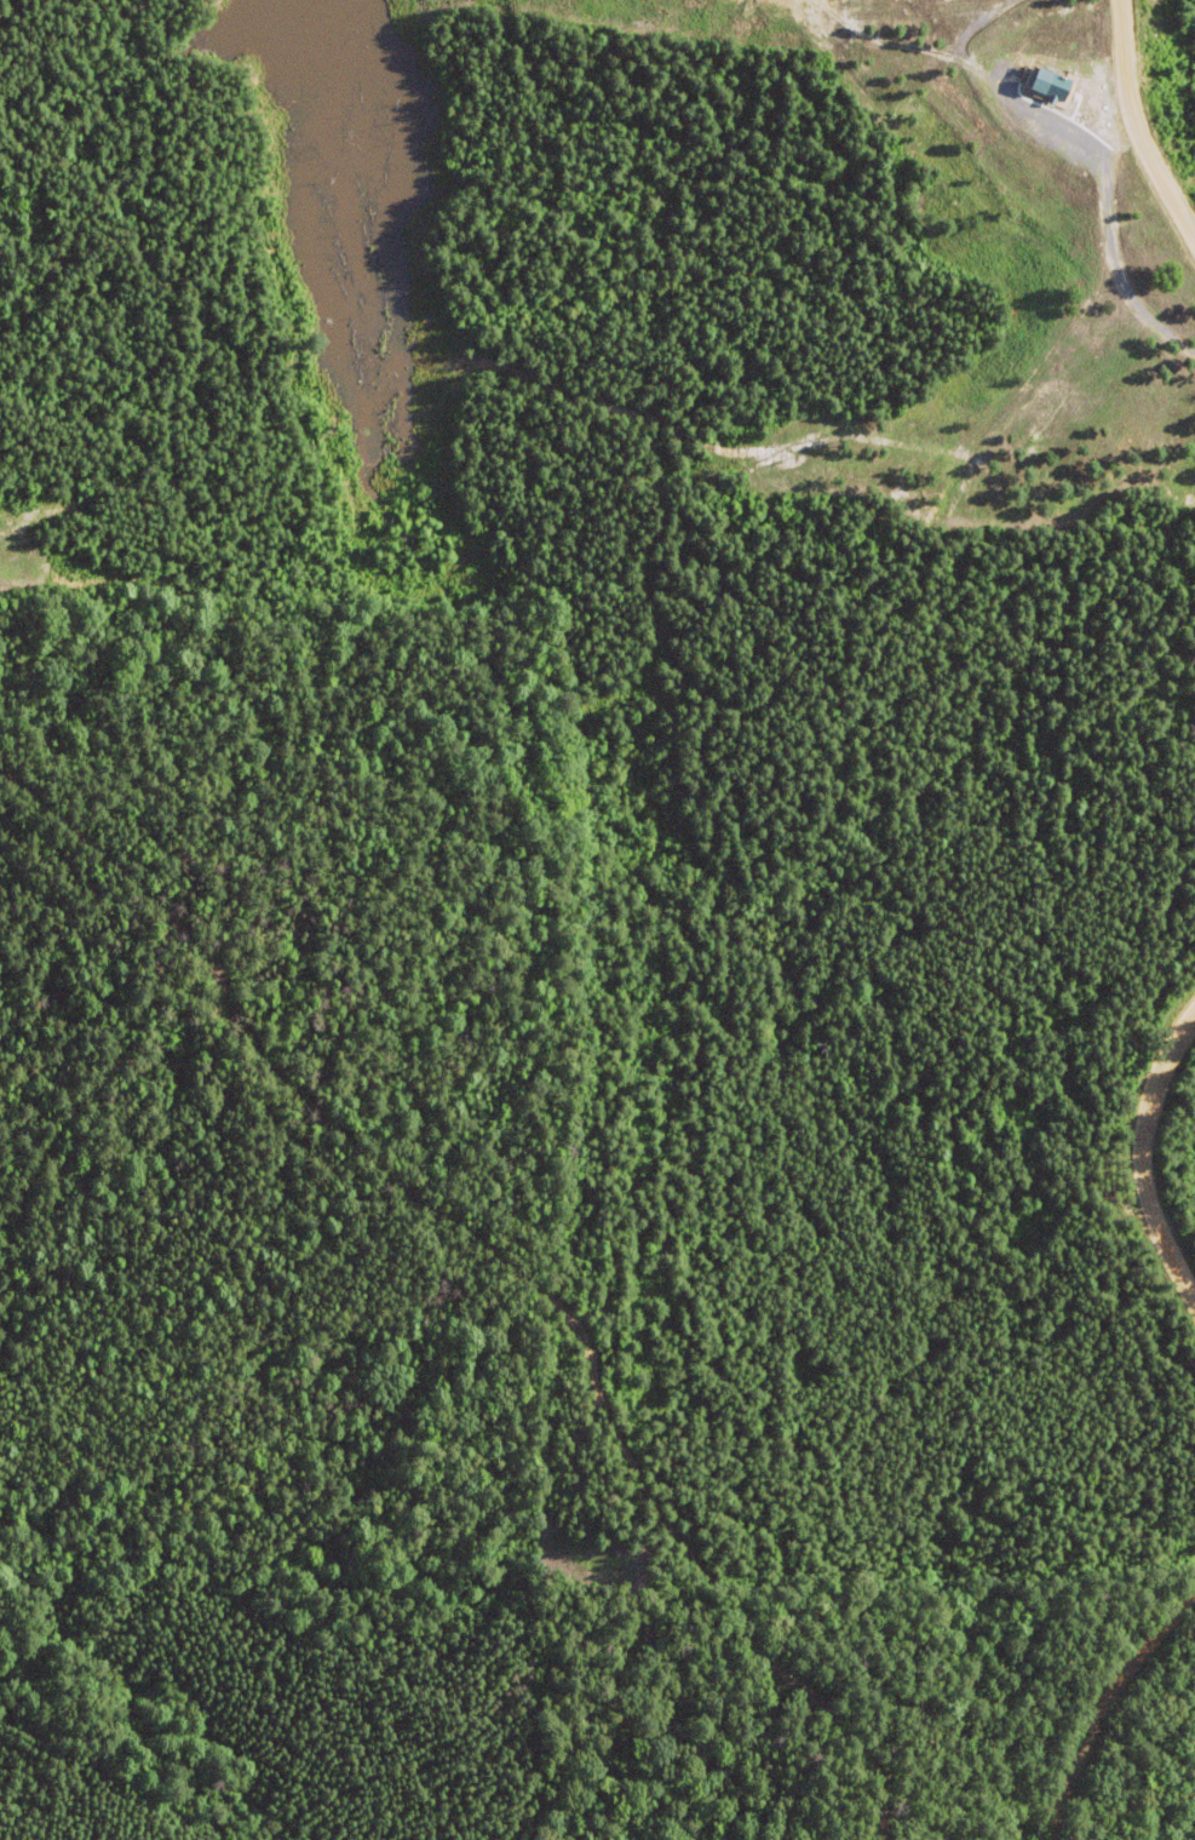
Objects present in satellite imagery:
road: (1148, 120)
road: (1184, 1120)
road: (1127, 1729)

